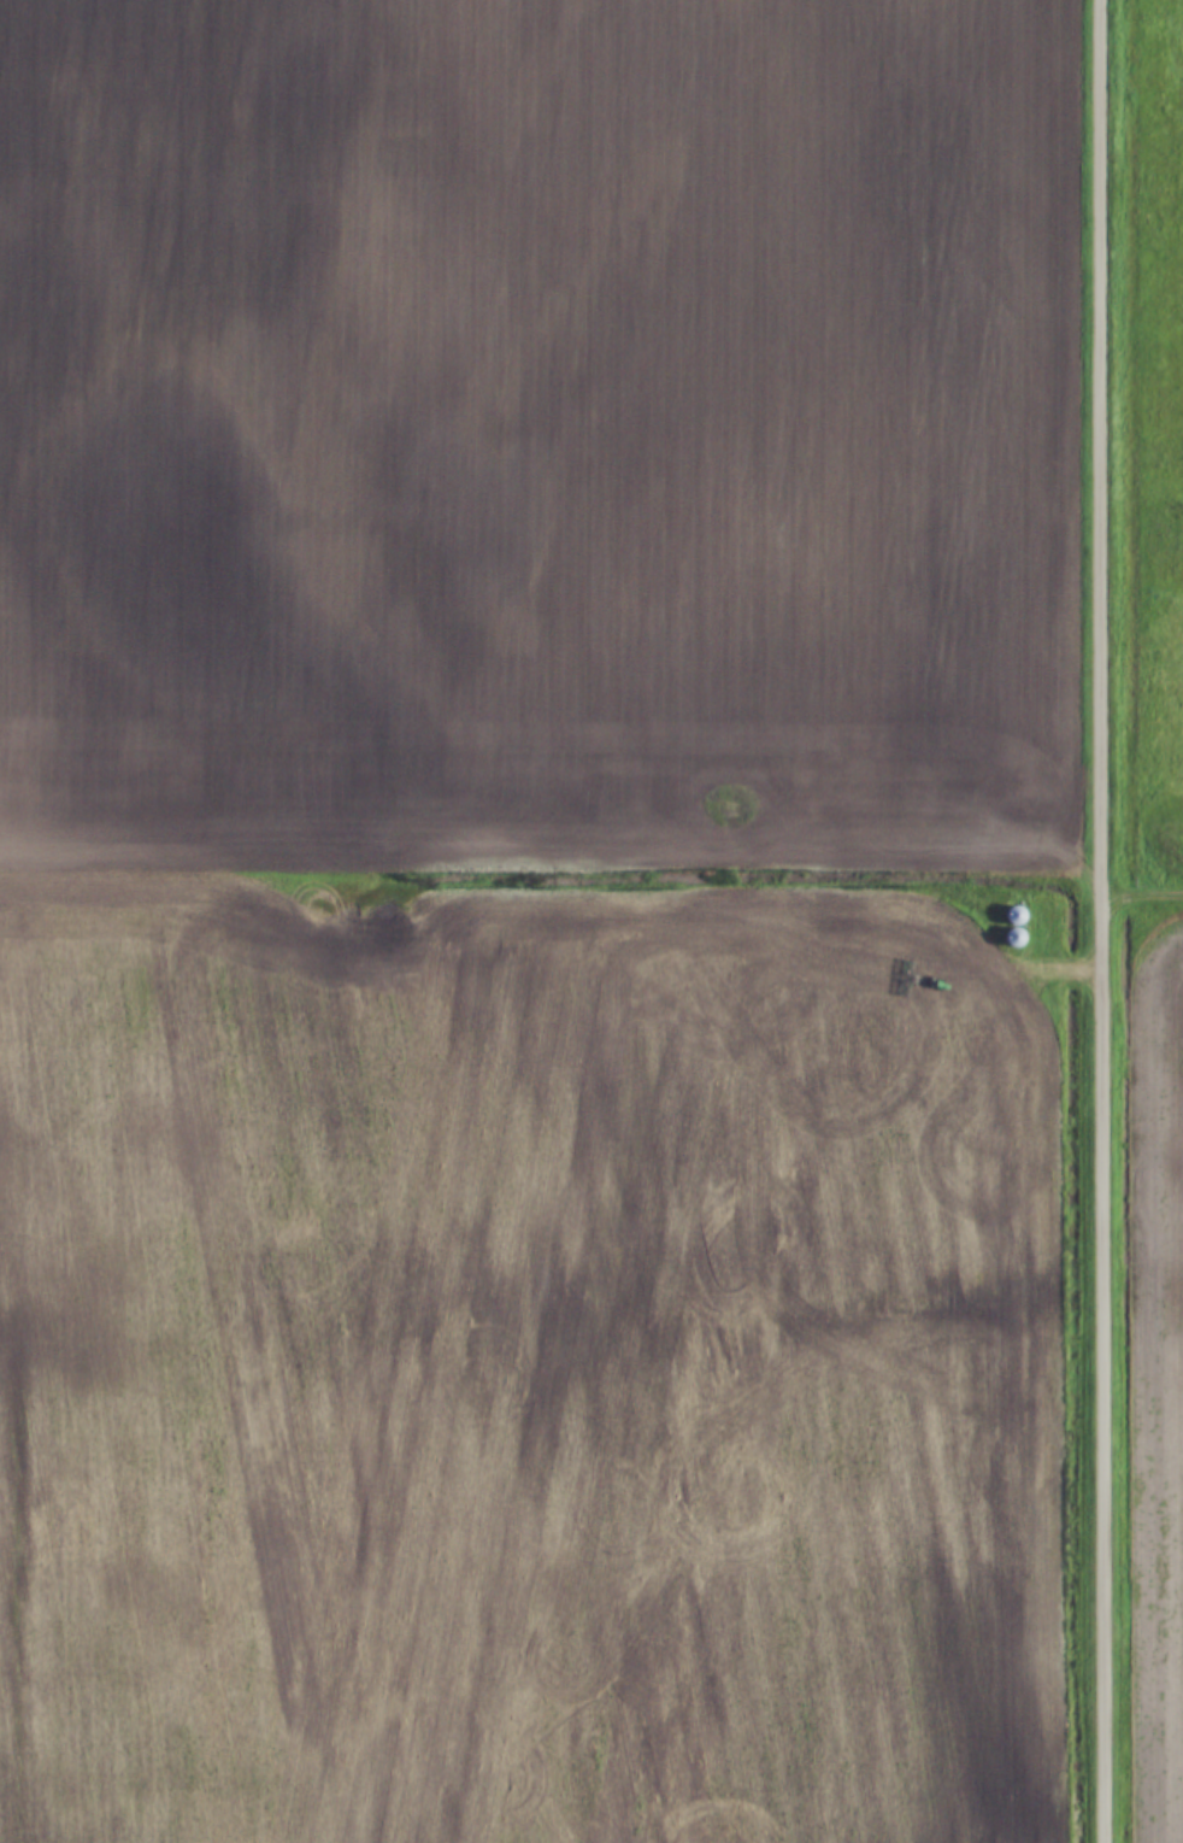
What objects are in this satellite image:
building: (1006, 916)
road: (1099, 921)

